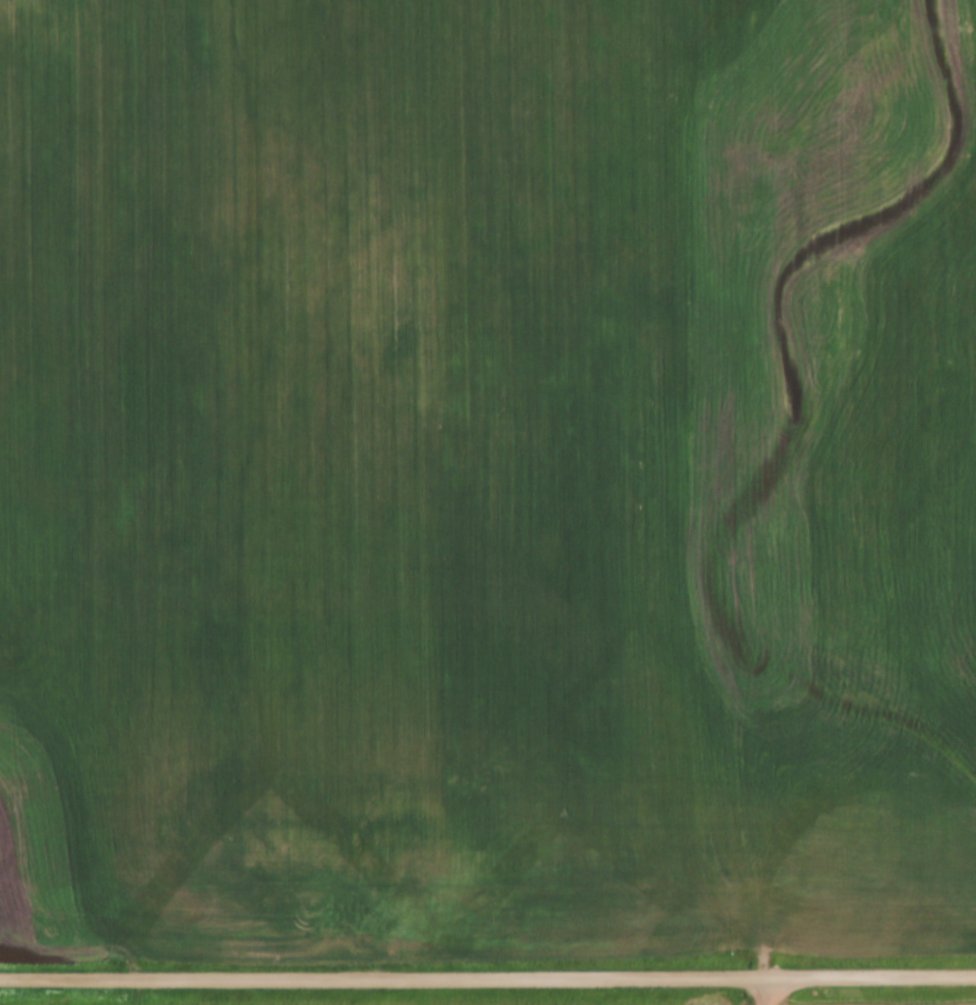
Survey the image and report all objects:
road: (488, 977)
road: (774, 990)

